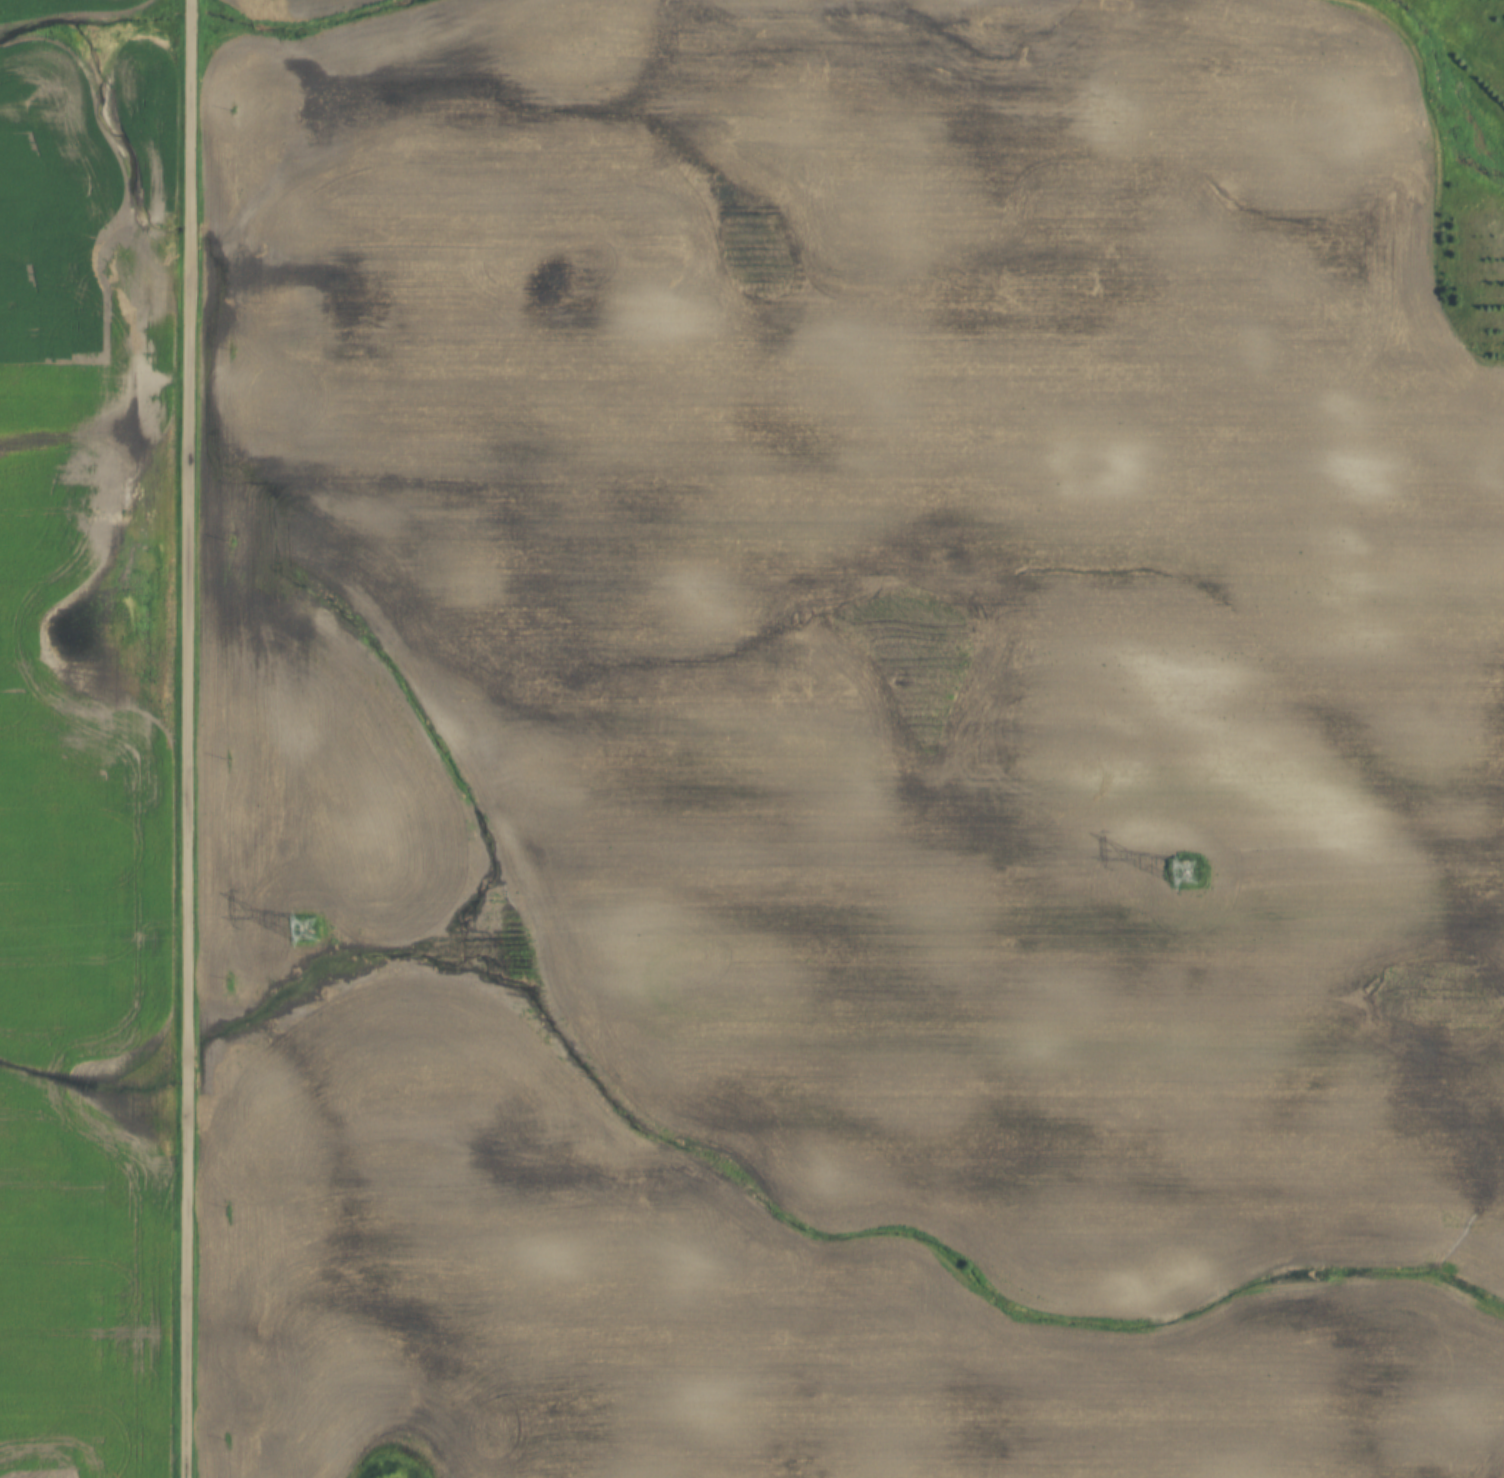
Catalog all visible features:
road: (190, 739)
power tower: (1183, 871)
power tower: (301, 927)

